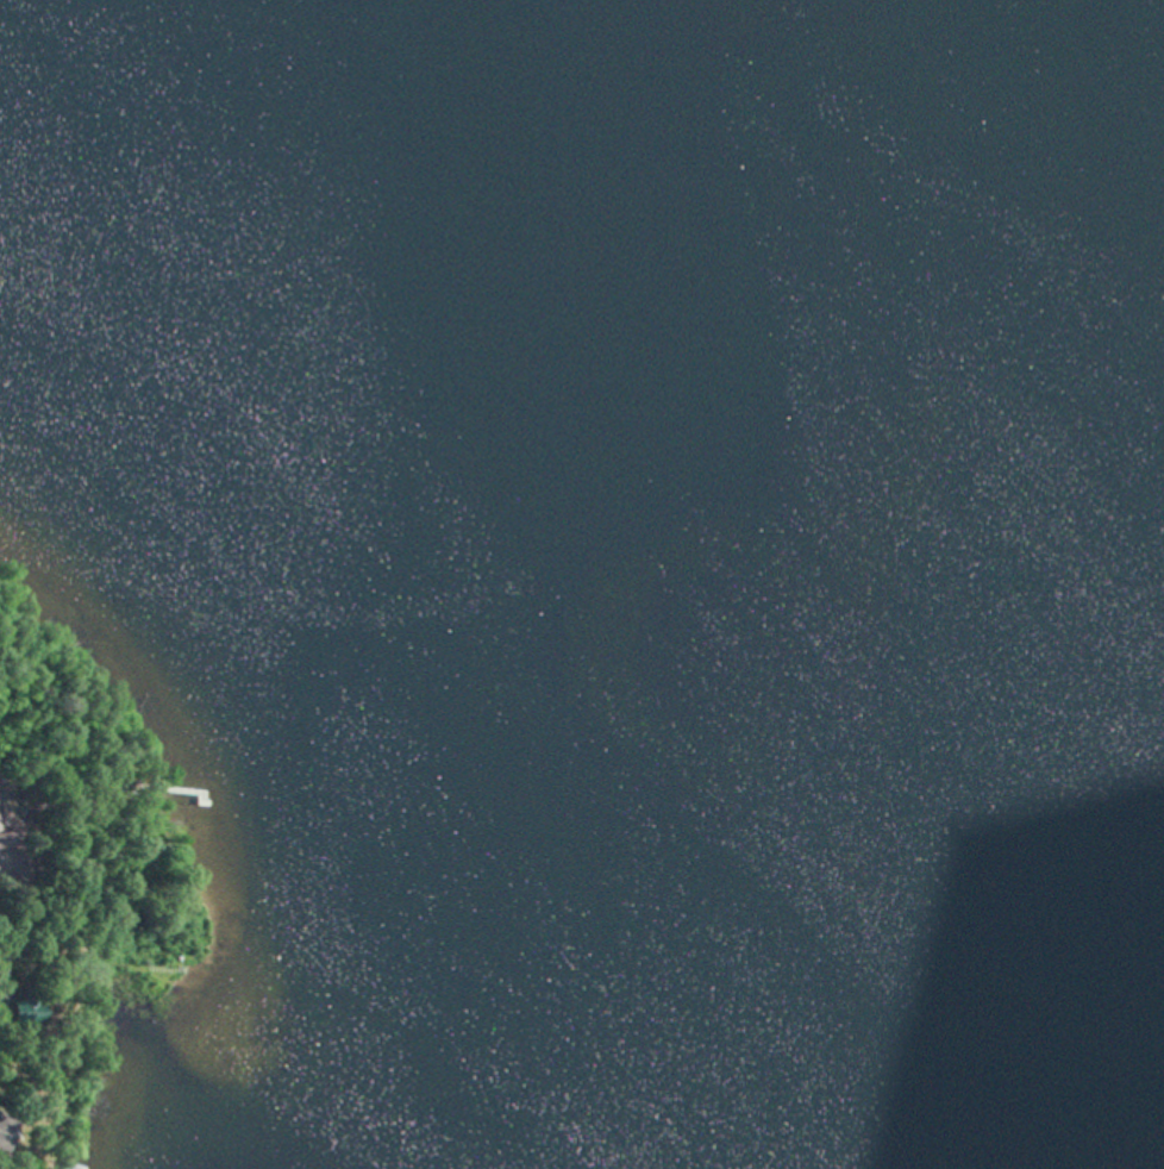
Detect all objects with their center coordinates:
building: (1, 832)
building: (26, 1004)
building: (8, 1133)

